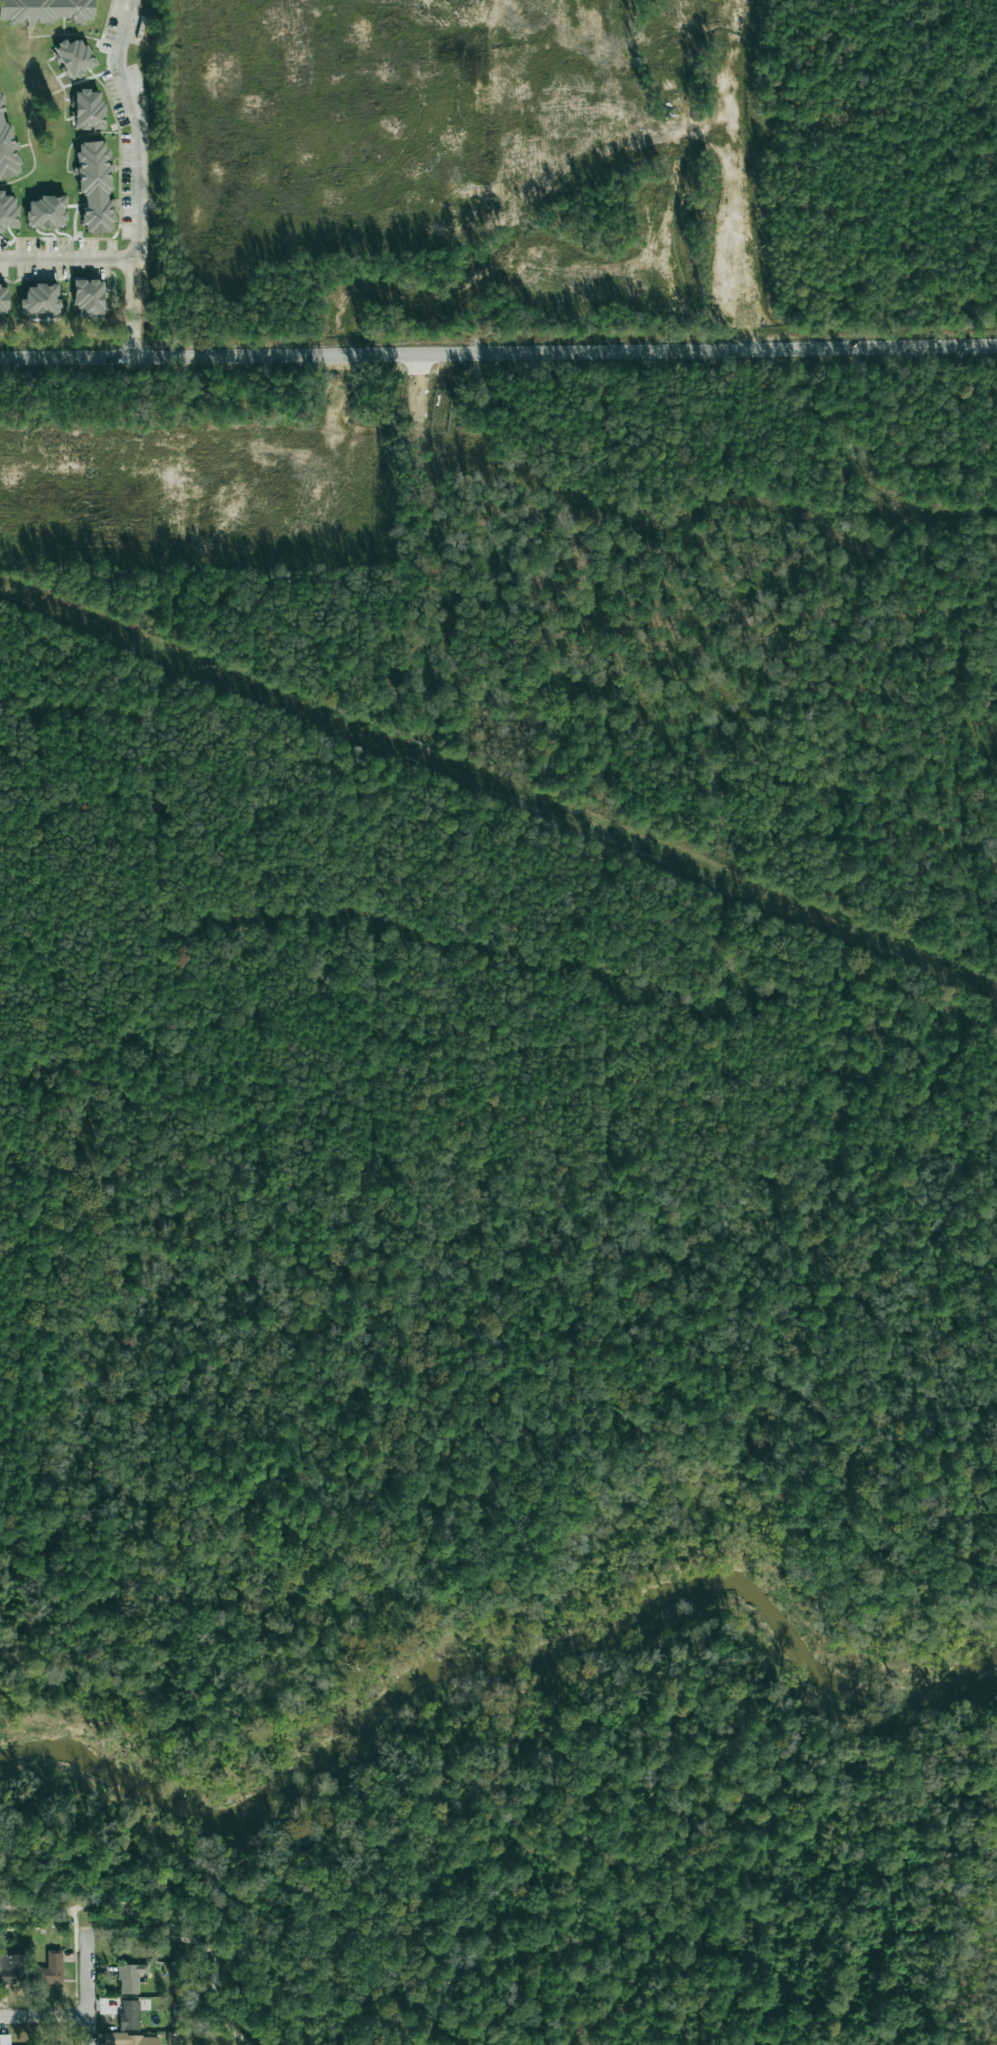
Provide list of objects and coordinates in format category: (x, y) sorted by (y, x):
building: (46, 10)
building: (73, 57)
building: (88, 110)
building: (7, 148)
road: (136, 176)
building: (94, 186)
building: (8, 211)
building: (46, 212)
road: (65, 258)
building: (89, 298)
building: (40, 299)
building: (4, 300)
road: (498, 352)
river: (519, 1671)
road: (74, 1924)
road: (153, 1935)
building: (13, 1968)
building: (53, 1968)
building: (131, 1978)
road: (86, 1986)
road: (43, 2015)
building: (130, 2015)
building: (5, 2040)
building: (140, 2040)

